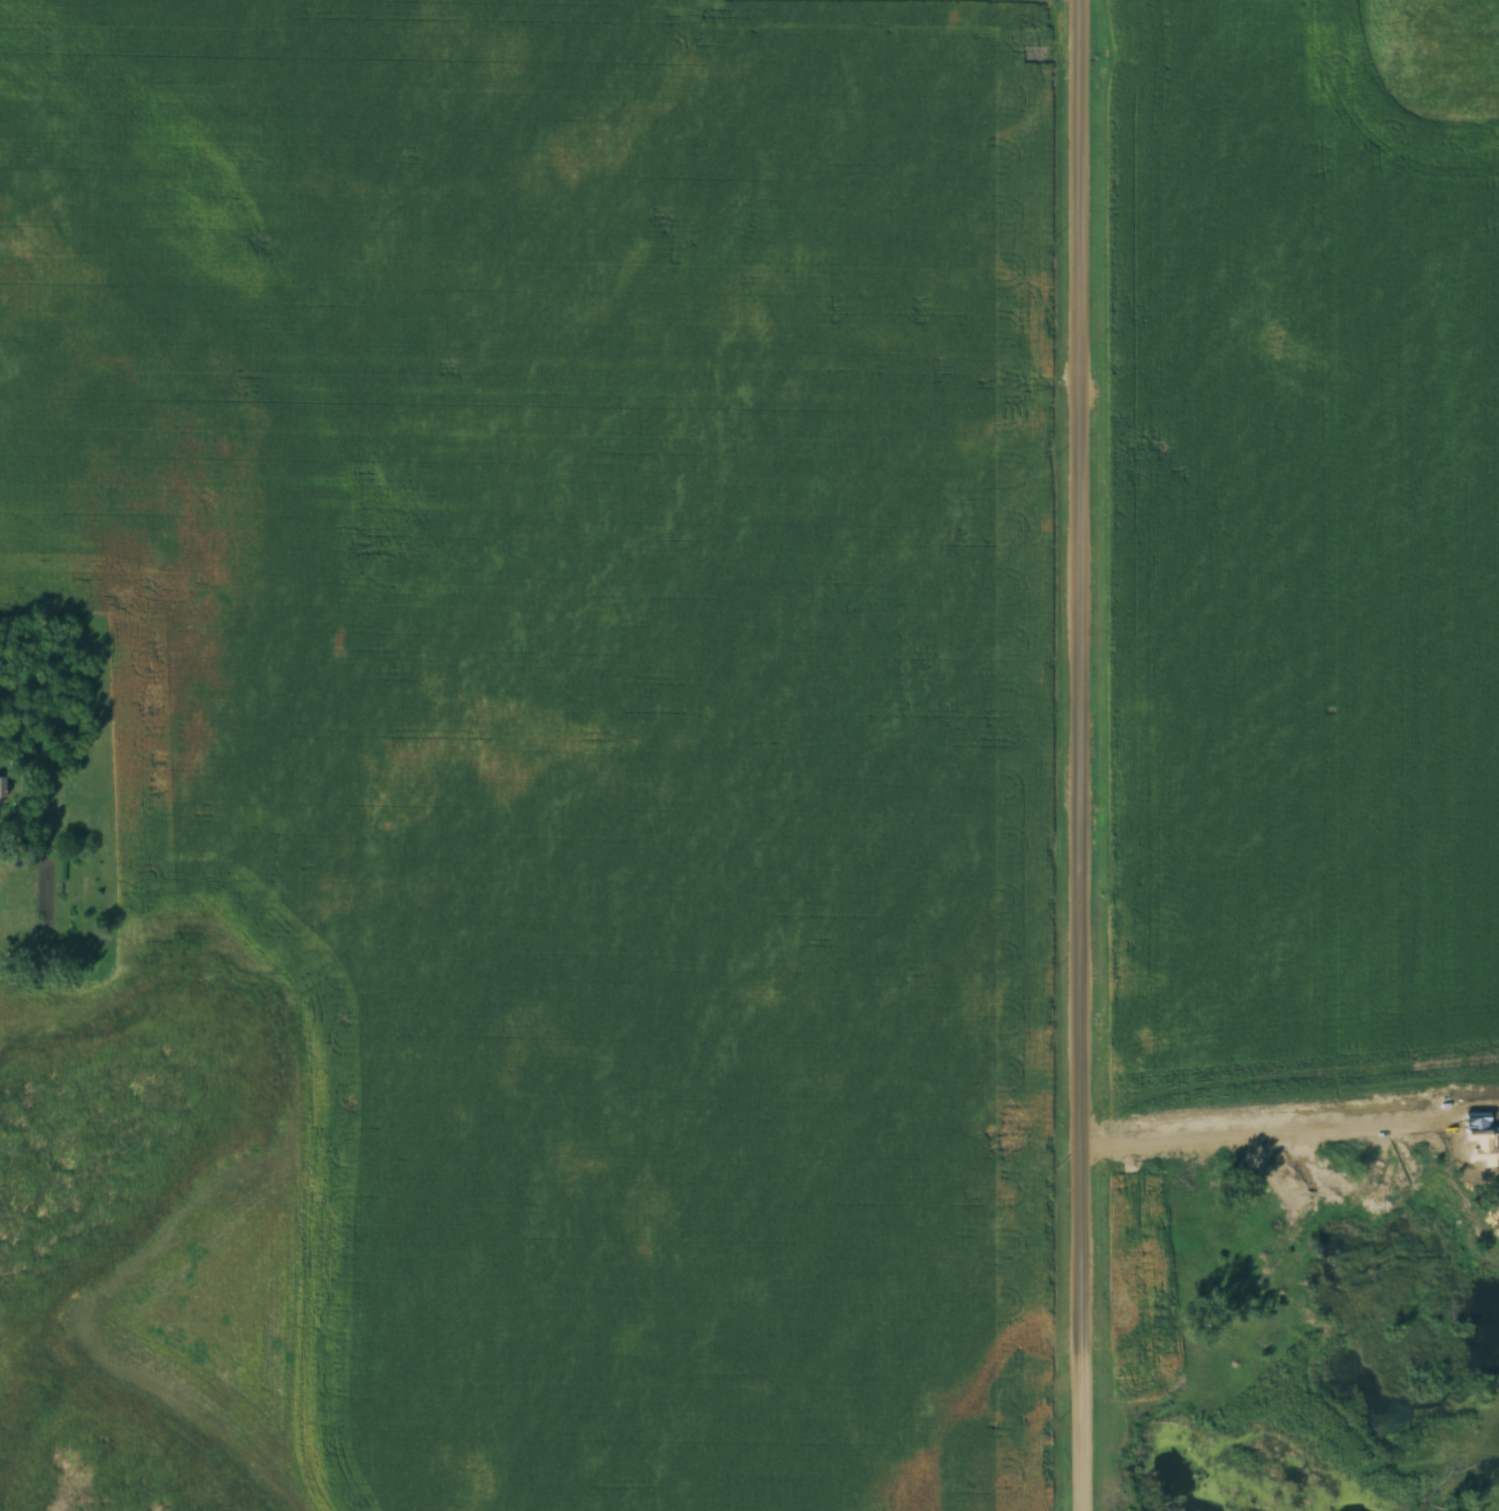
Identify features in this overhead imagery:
road: (1080, 755)
building: (1, 788)

